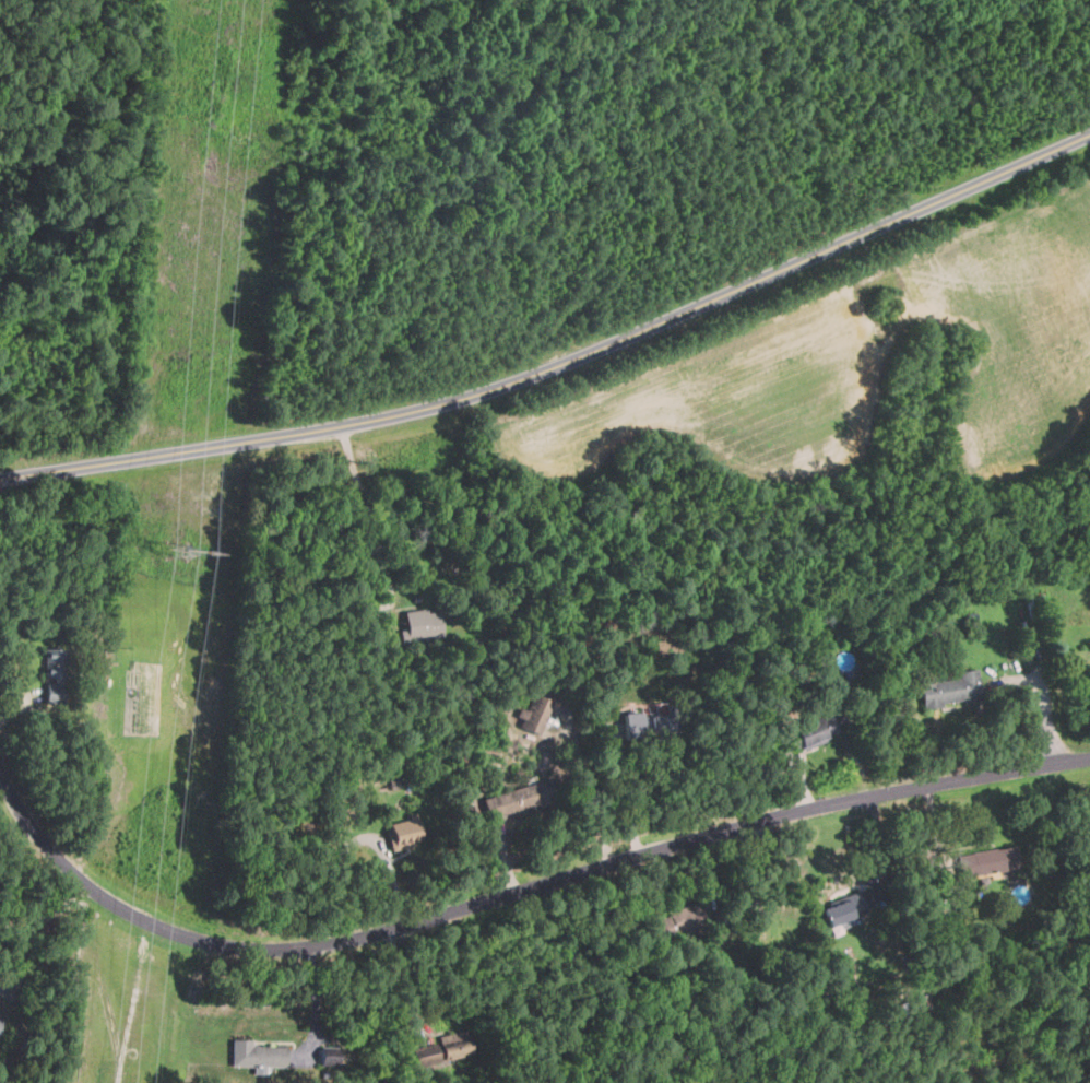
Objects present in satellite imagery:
road: (560, 360)
road: (371, 515)
power tower: (180, 551)
building: (423, 623)
building: (56, 675)
building: (952, 688)
building: (546, 692)
building: (535, 711)
building: (635, 726)
building: (665, 726)
building: (818, 730)
building: (512, 800)
road: (632, 807)
building: (406, 829)
building: (990, 861)
road: (511, 896)
road: (63, 902)
building: (848, 908)
building: (679, 921)
road: (21, 923)
road: (23, 955)
road: (317, 1007)
building: (1, 1022)
building: (448, 1047)
building: (258, 1055)
building: (329, 1055)

